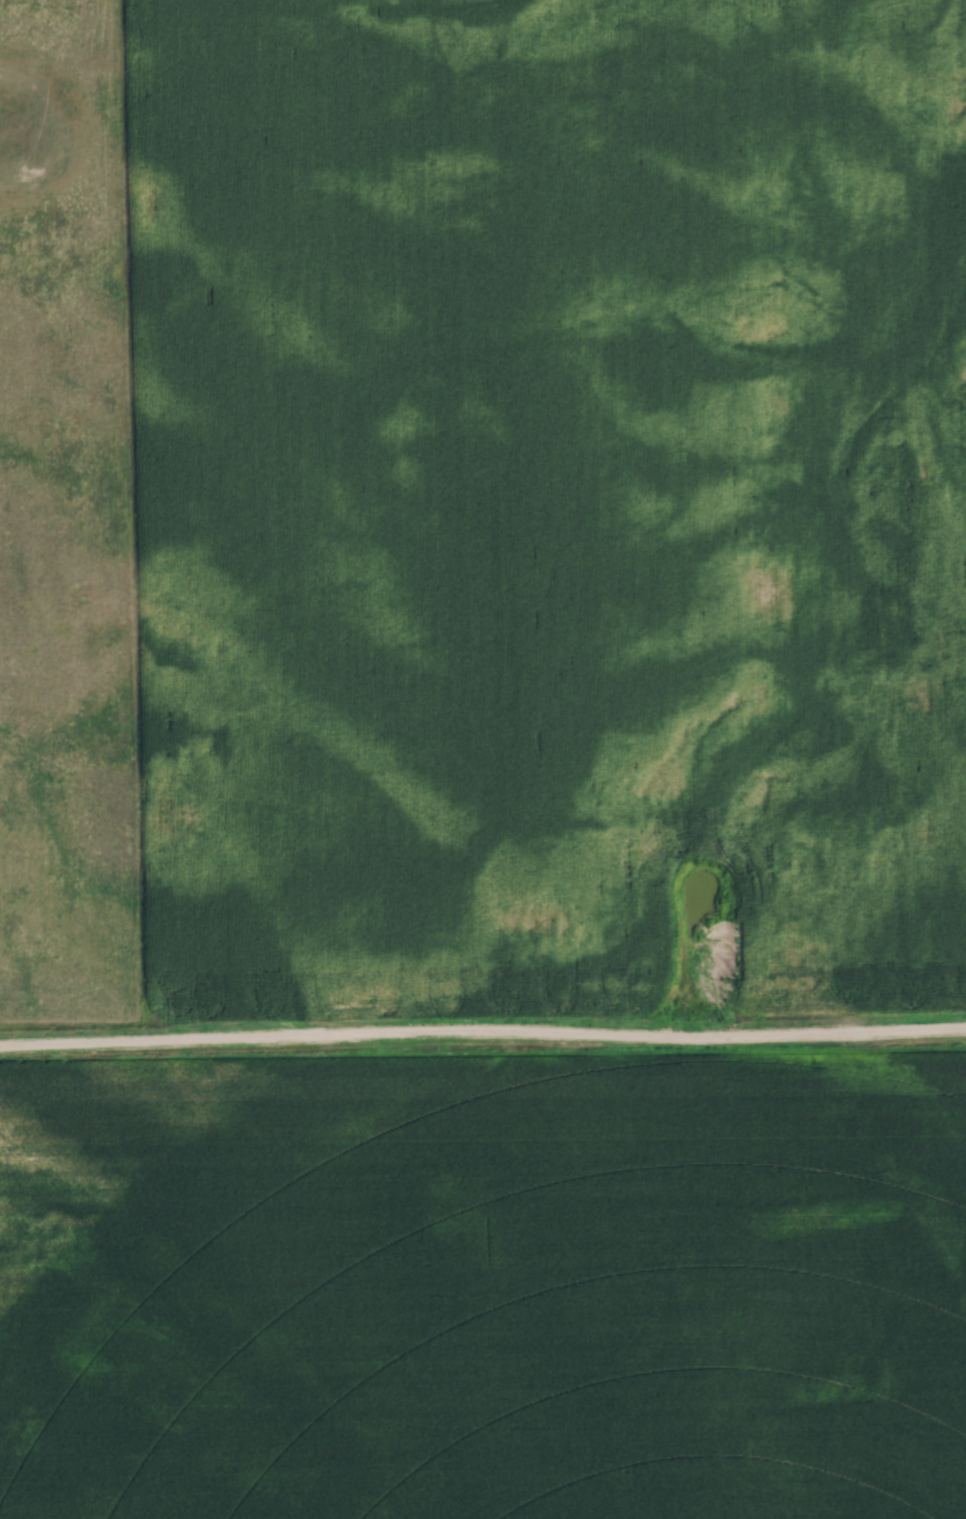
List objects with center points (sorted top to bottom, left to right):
road: (482, 1038)

